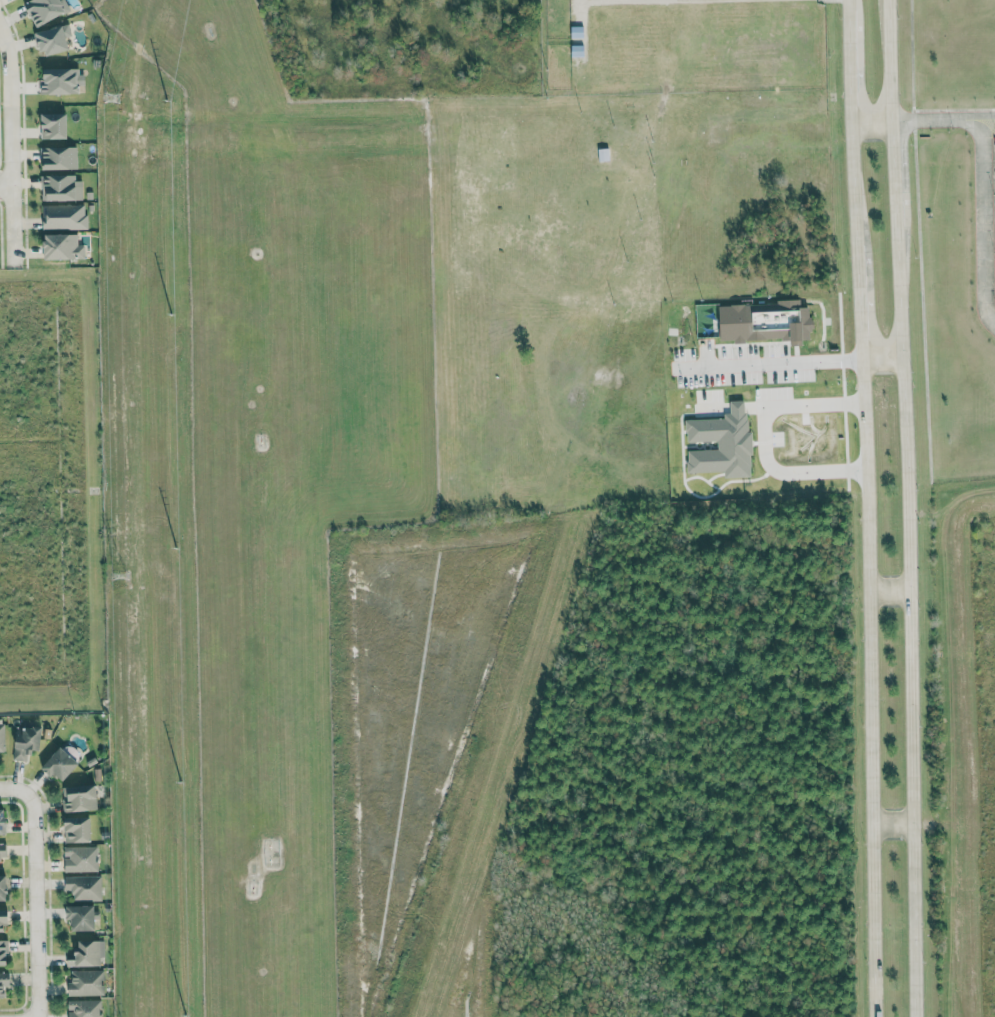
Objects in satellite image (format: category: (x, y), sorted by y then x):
road: (660, 2)
road: (849, 3)
building: (44, 10)
building: (53, 39)
road: (889, 59)
road: (850, 63)
building: (59, 81)
power tower: (109, 95)
road: (976, 115)
road: (923, 116)
road: (871, 118)
building: (54, 126)
building: (60, 158)
road: (11, 164)
road: (891, 173)
road: (854, 181)
road: (6, 185)
building: (61, 188)
road: (982, 216)
building: (64, 217)
building: (63, 247)
road: (859, 300)
building: (765, 322)
road: (879, 353)
road: (779, 365)
power tower: (118, 572)
road: (884, 593)
road: (900, 623)
road: (869, 686)
building: (1, 736)
building: (26, 740)
building: (59, 763)
road: (17, 788)
building: (80, 797)
building: (3, 820)
road: (887, 824)
building: (78, 828)
building: (3, 850)
building: (80, 858)
building: (3, 887)
building: (84, 887)
road: (33, 908)
building: (81, 917)
building: (4, 919)
building: (4, 951)
building: (84, 953)
building: (4, 982)
building: (86, 982)
building: (84, 1008)

